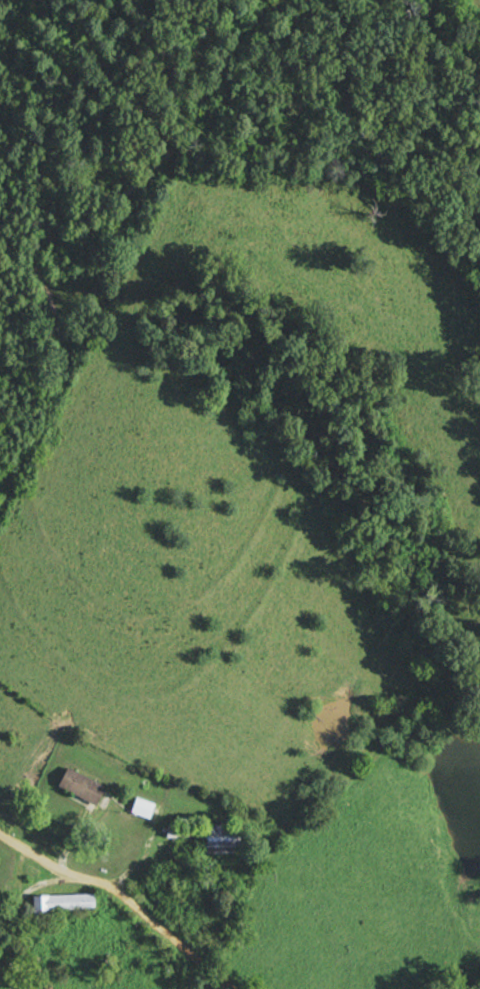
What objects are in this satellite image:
building: (84, 785)
building: (144, 807)
building: (208, 838)
road: (124, 897)
building: (64, 903)

